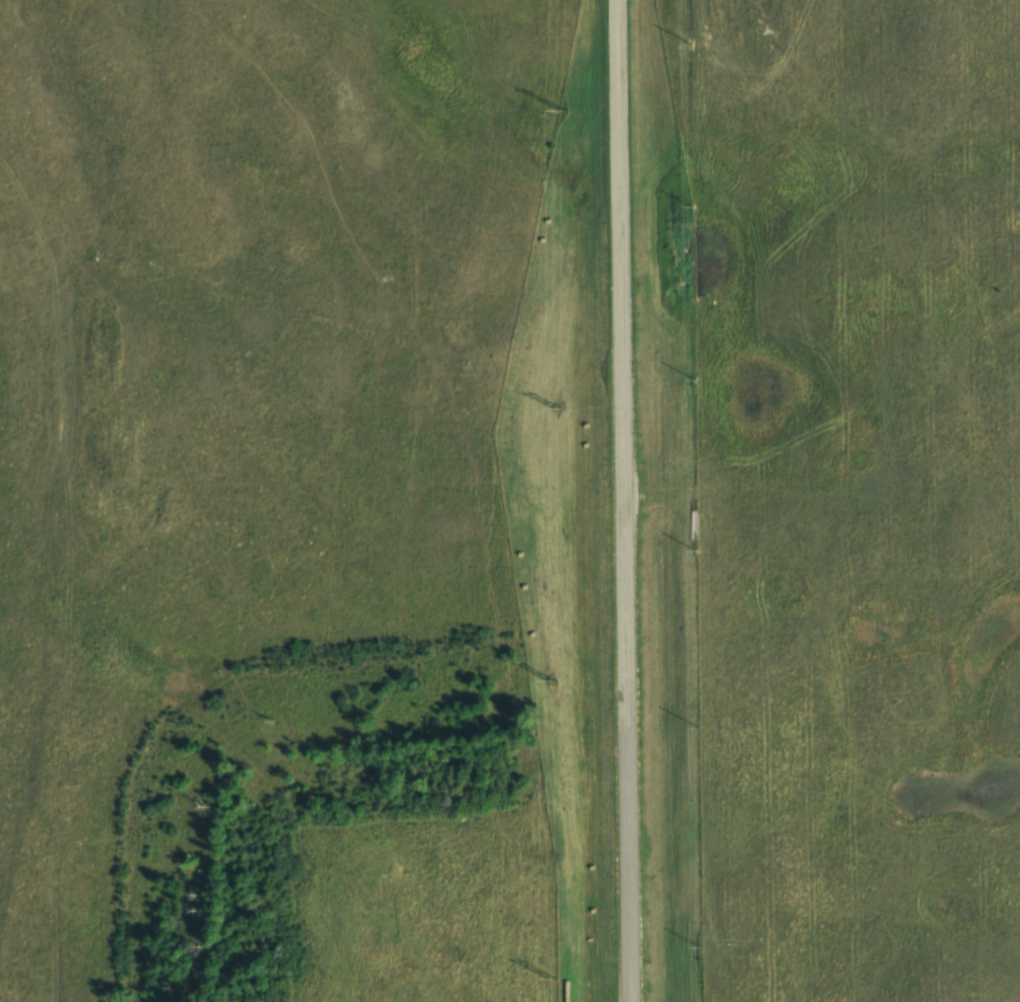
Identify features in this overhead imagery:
power tower: (562, 110)
power tower: (556, 407)
road: (621, 500)
power tower: (550, 680)
power tower: (550, 979)

